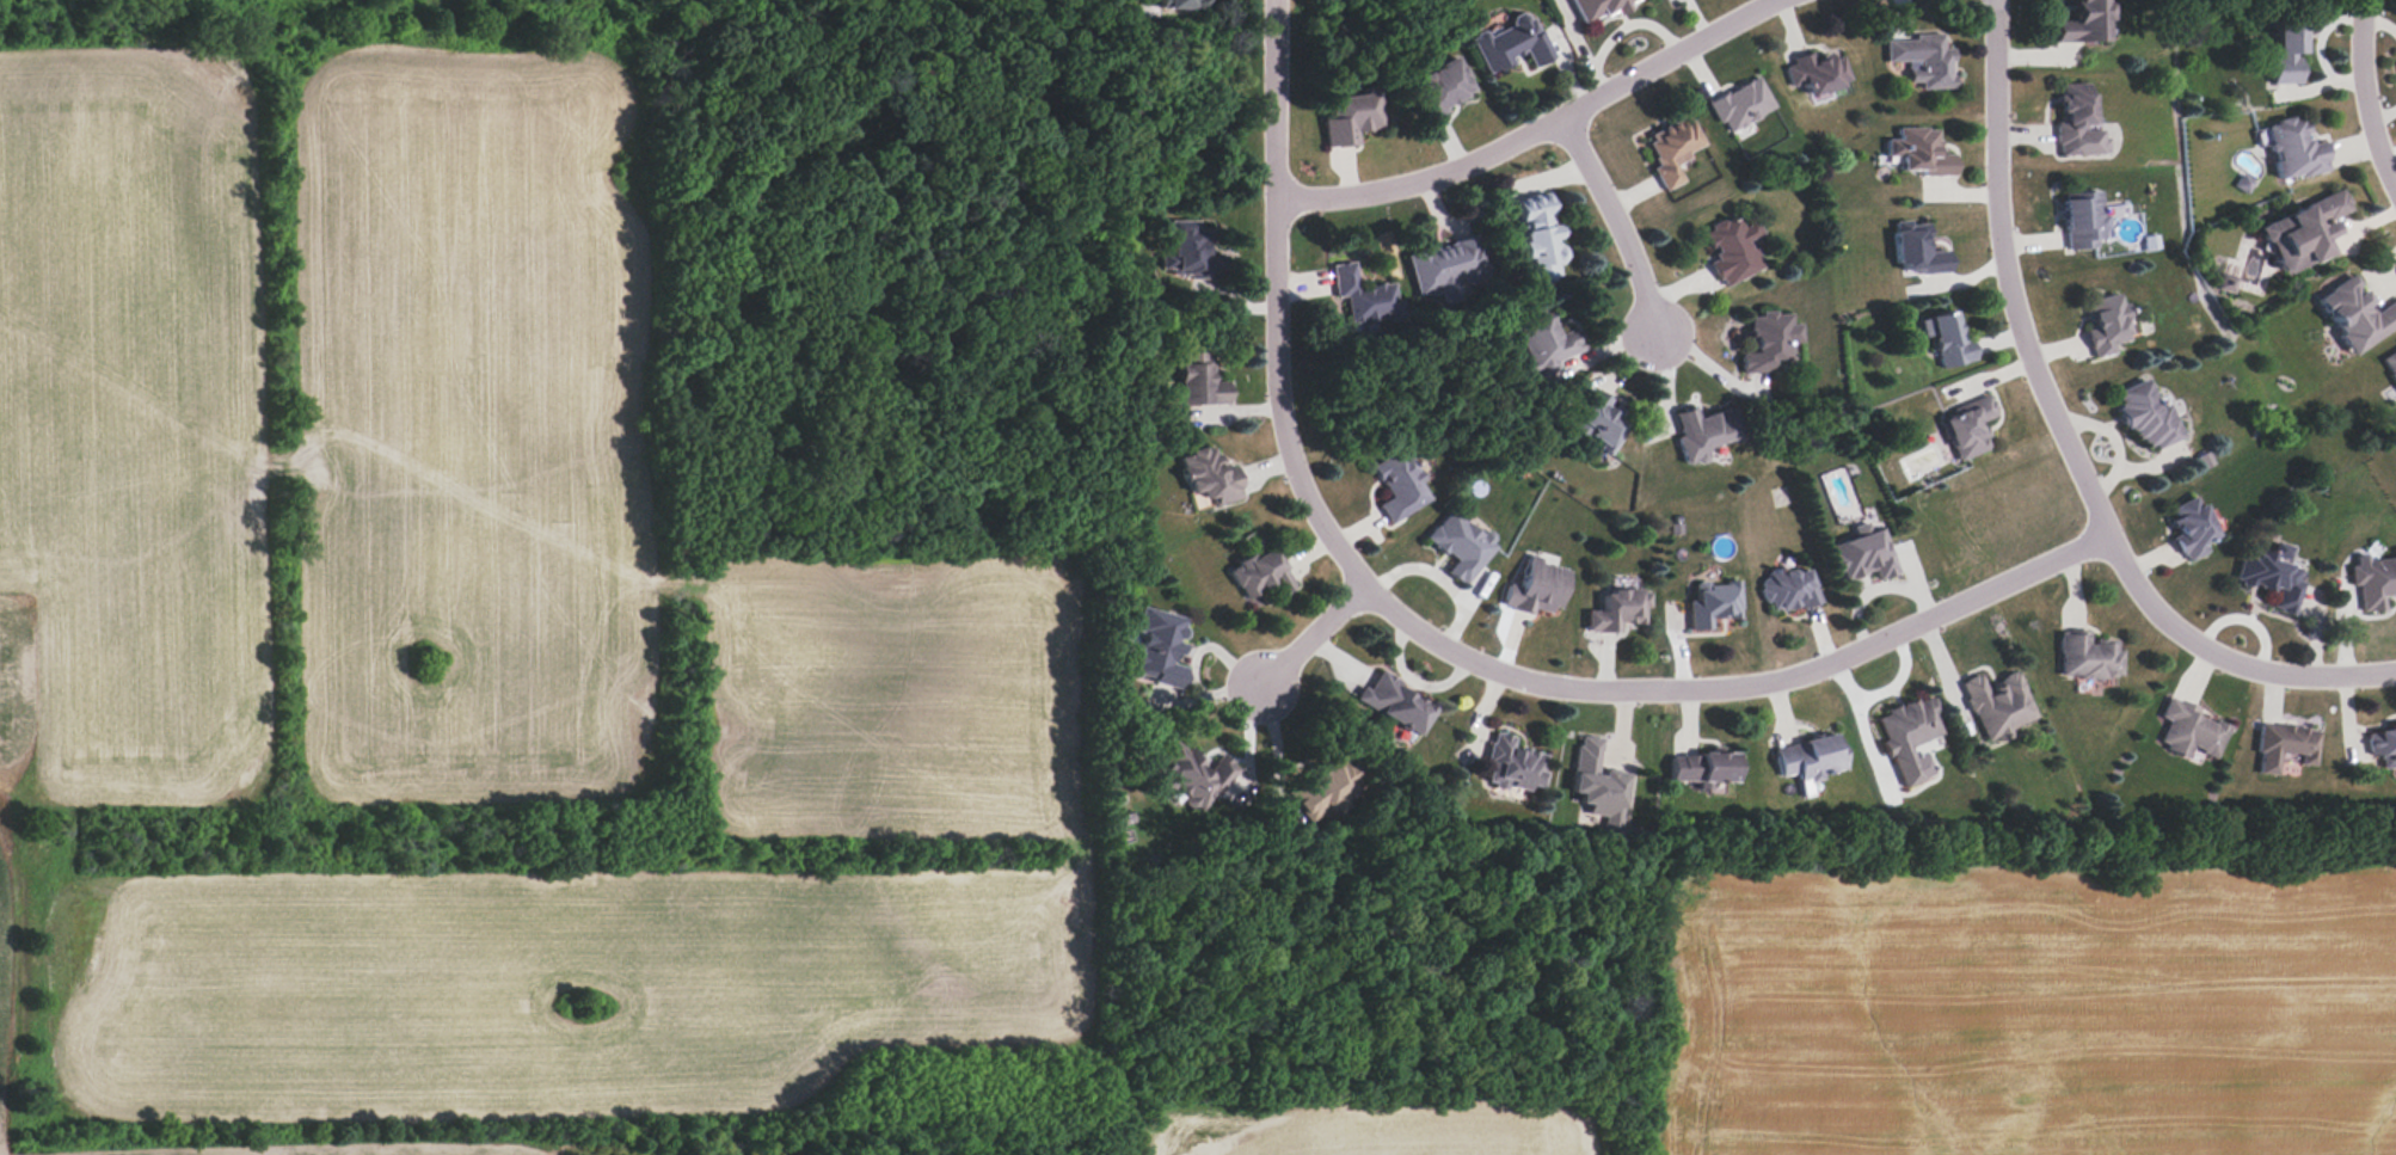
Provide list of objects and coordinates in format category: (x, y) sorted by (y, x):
building: (1181, 5)
building: (1595, 8)
building: (2083, 24)
building: (1511, 44)
building: (2286, 51)
building: (1922, 61)
building: (1818, 73)
building: (1444, 90)
road: (2363, 94)
building: (1741, 106)
building: (1352, 118)
building: (2077, 123)
road: (1540, 128)
building: (1672, 149)
building: (2294, 150)
building: (1918, 154)
building: (2082, 221)
road: (1617, 223)
building: (2302, 234)
building: (1538, 239)
building: (1732, 250)
building: (1916, 252)
building: (1188, 253)
building: (1449, 268)
building: (2226, 282)
building: (1448, 291)
building: (1365, 301)
building: (2357, 315)
building: (2105, 325)
building: (1543, 342)
building: (1947, 342)
building: (1768, 343)
building: (2390, 361)
building: (1198, 383)
building: (1599, 419)
building: (2145, 419)
crop: (462, 420)
crop: (130, 426)
building: (1967, 429)
building: (1703, 434)
road: (2066, 440)
building: (1209, 479)
building: (1400, 486)
building: (2191, 528)
building: (1461, 547)
building: (2395, 548)
building: (1861, 558)
building: (1261, 577)
building: (2272, 578)
building: (2373, 582)
building: (1538, 589)
building: (1789, 592)
building: (1713, 604)
building: (1617, 612)
road: (1316, 640)
road: (1443, 643)
building: (1157, 650)
building: (2088, 658)
crop: (886, 694)
building: (1395, 702)
building: (1997, 705)
building: (2191, 732)
building: (1909, 736)
building: (2383, 745)
building: (2284, 748)
building: (1810, 760)
building: (1513, 763)
building: (1703, 767)
building: (1194, 776)
building: (1596, 782)
building: (1326, 788)
crop: (559, 977)
crop: (2034, 1012)
crop: (1377, 1124)
crop: (449, 1151)

